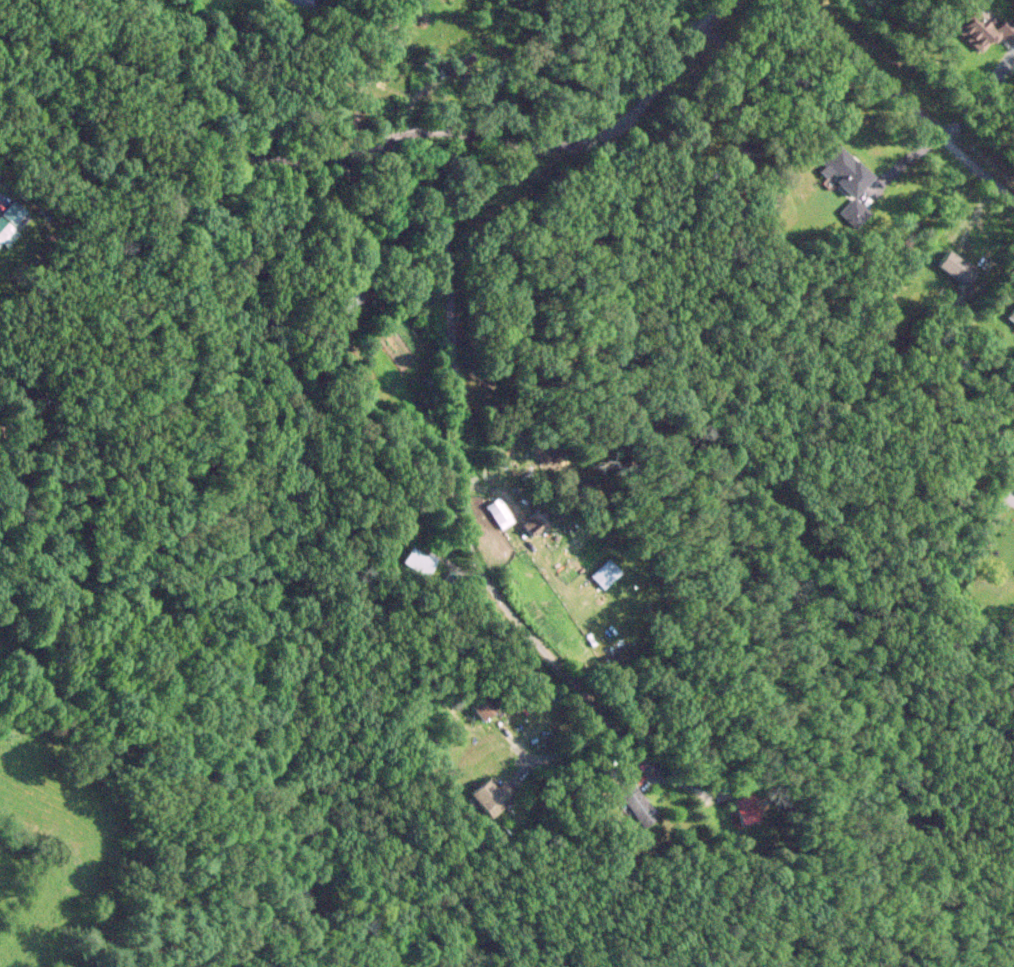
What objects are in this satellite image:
building: (986, 30)
road: (907, 101)
road: (375, 140)
building: (749, 155)
building: (847, 170)
building: (957, 267)
building: (418, 286)
building: (351, 293)
building: (1012, 315)
road: (459, 508)
building: (536, 523)
road: (985, 524)
building: (418, 561)
building: (605, 573)
building: (484, 706)
building: (492, 797)
building: (637, 803)
building: (746, 809)

